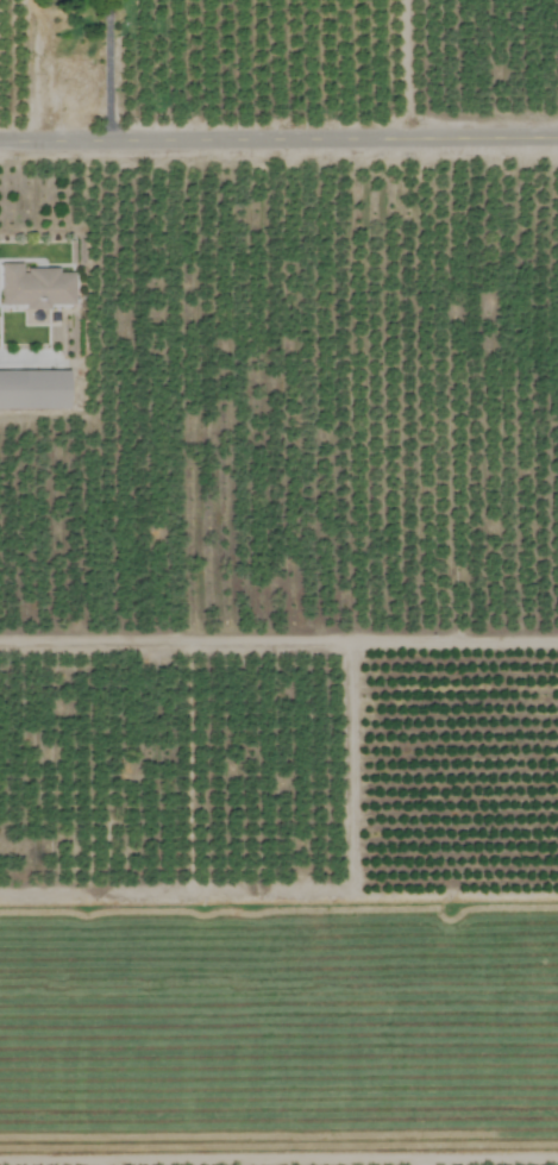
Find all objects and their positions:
road: (107, 73)
road: (278, 144)
building: (35, 287)
road: (278, 641)

